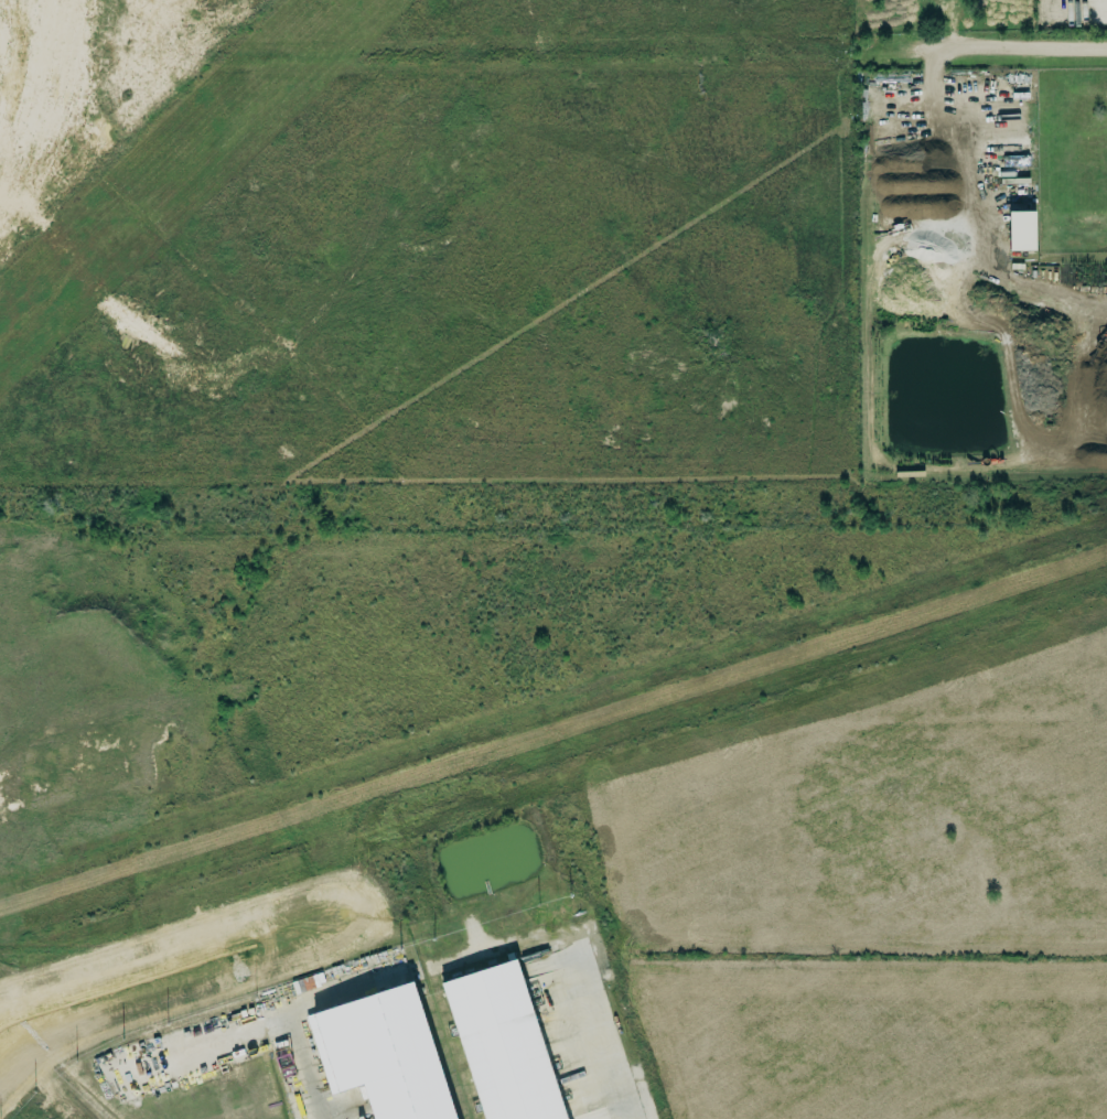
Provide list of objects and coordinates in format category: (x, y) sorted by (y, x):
road: (1029, 46)
building: (1010, 154)
road: (969, 174)
building: (1022, 230)
road: (1072, 298)
road: (248, 1023)
road: (603, 1034)
building: (501, 1043)
building: (380, 1053)

